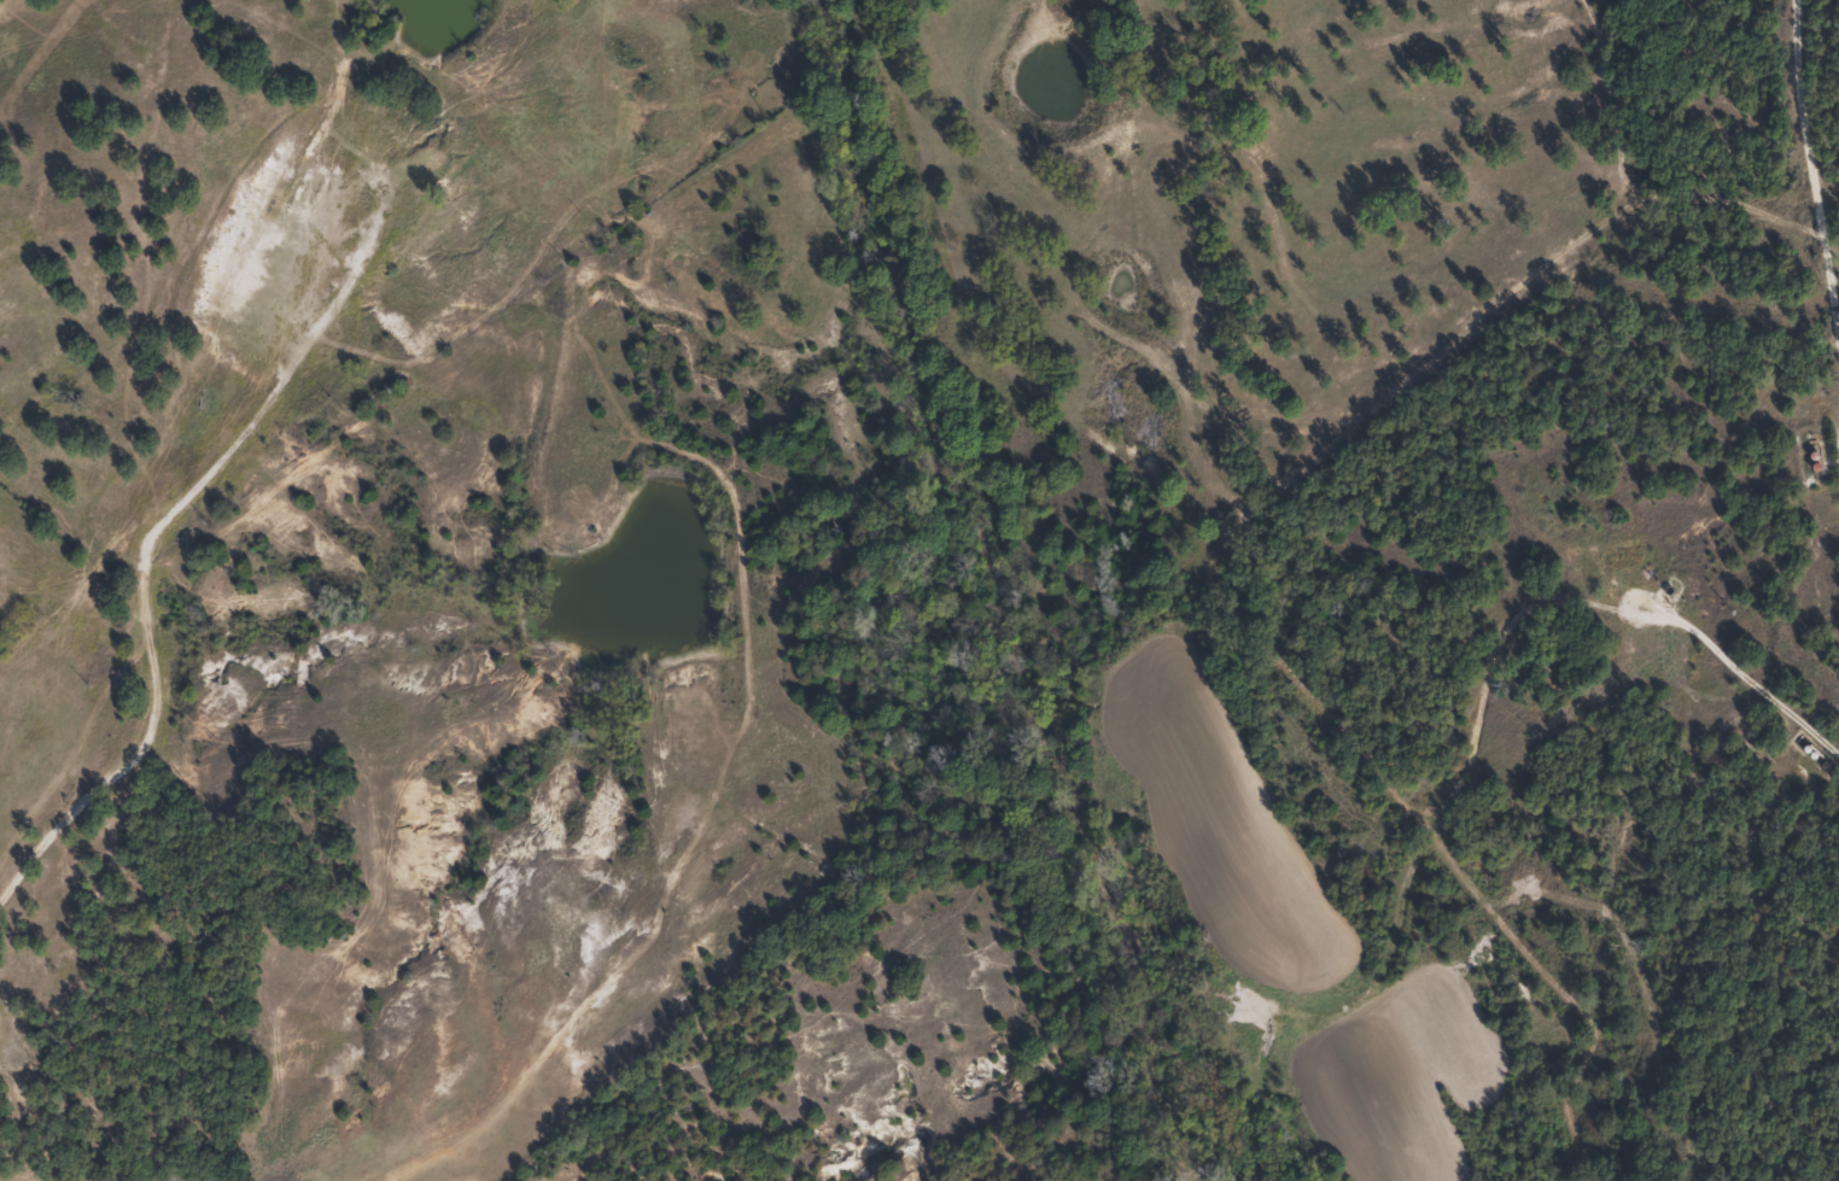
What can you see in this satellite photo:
road: (1833, 63)

